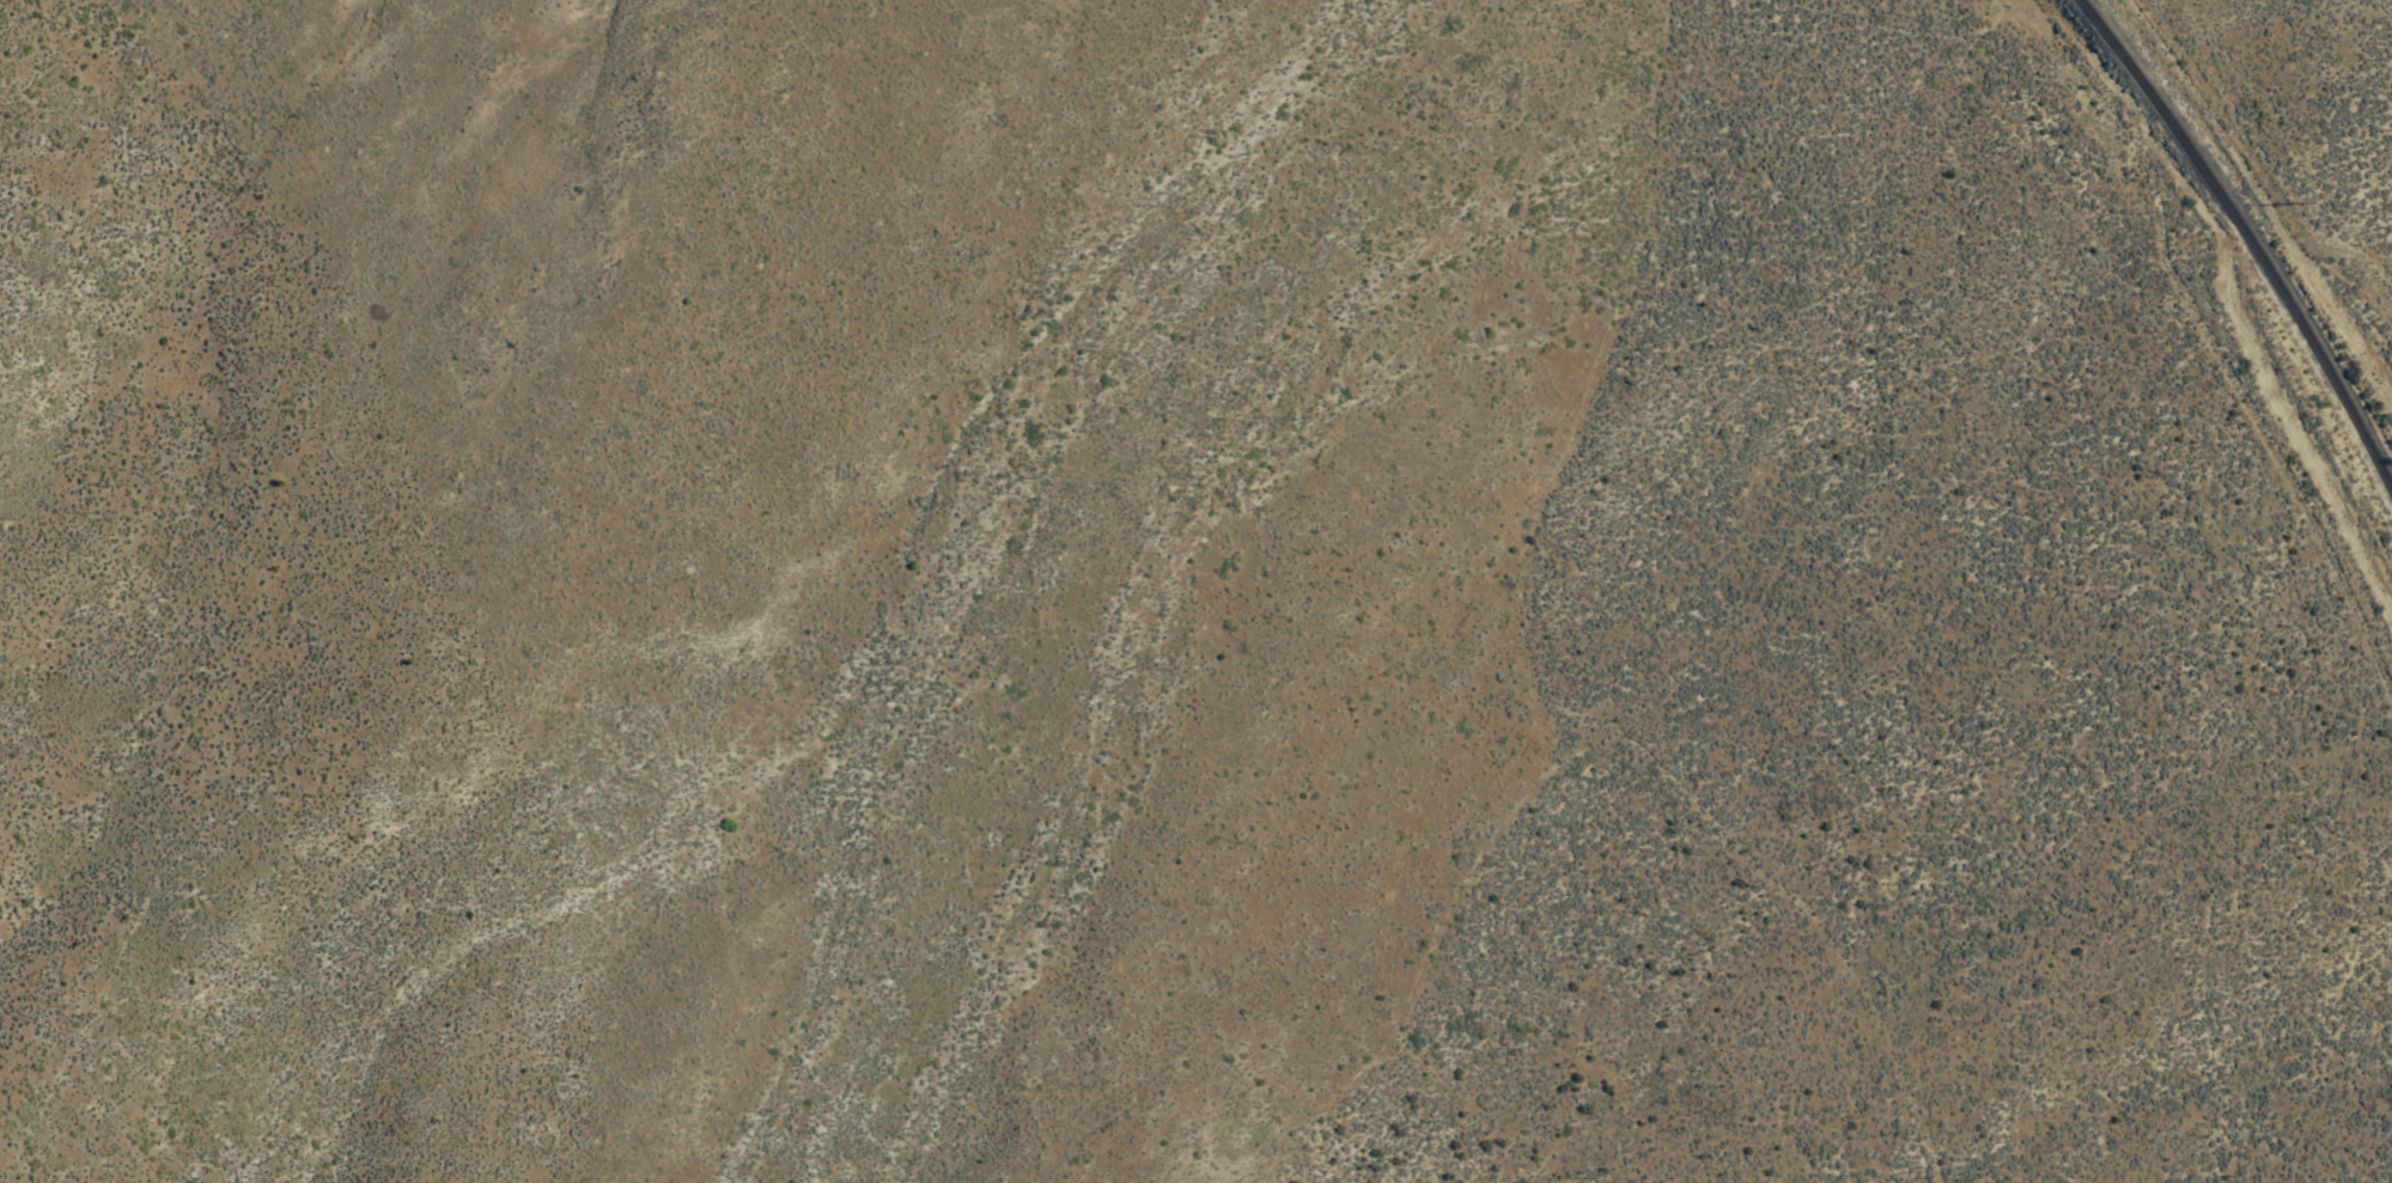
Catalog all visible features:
railway: (2246, 238)

